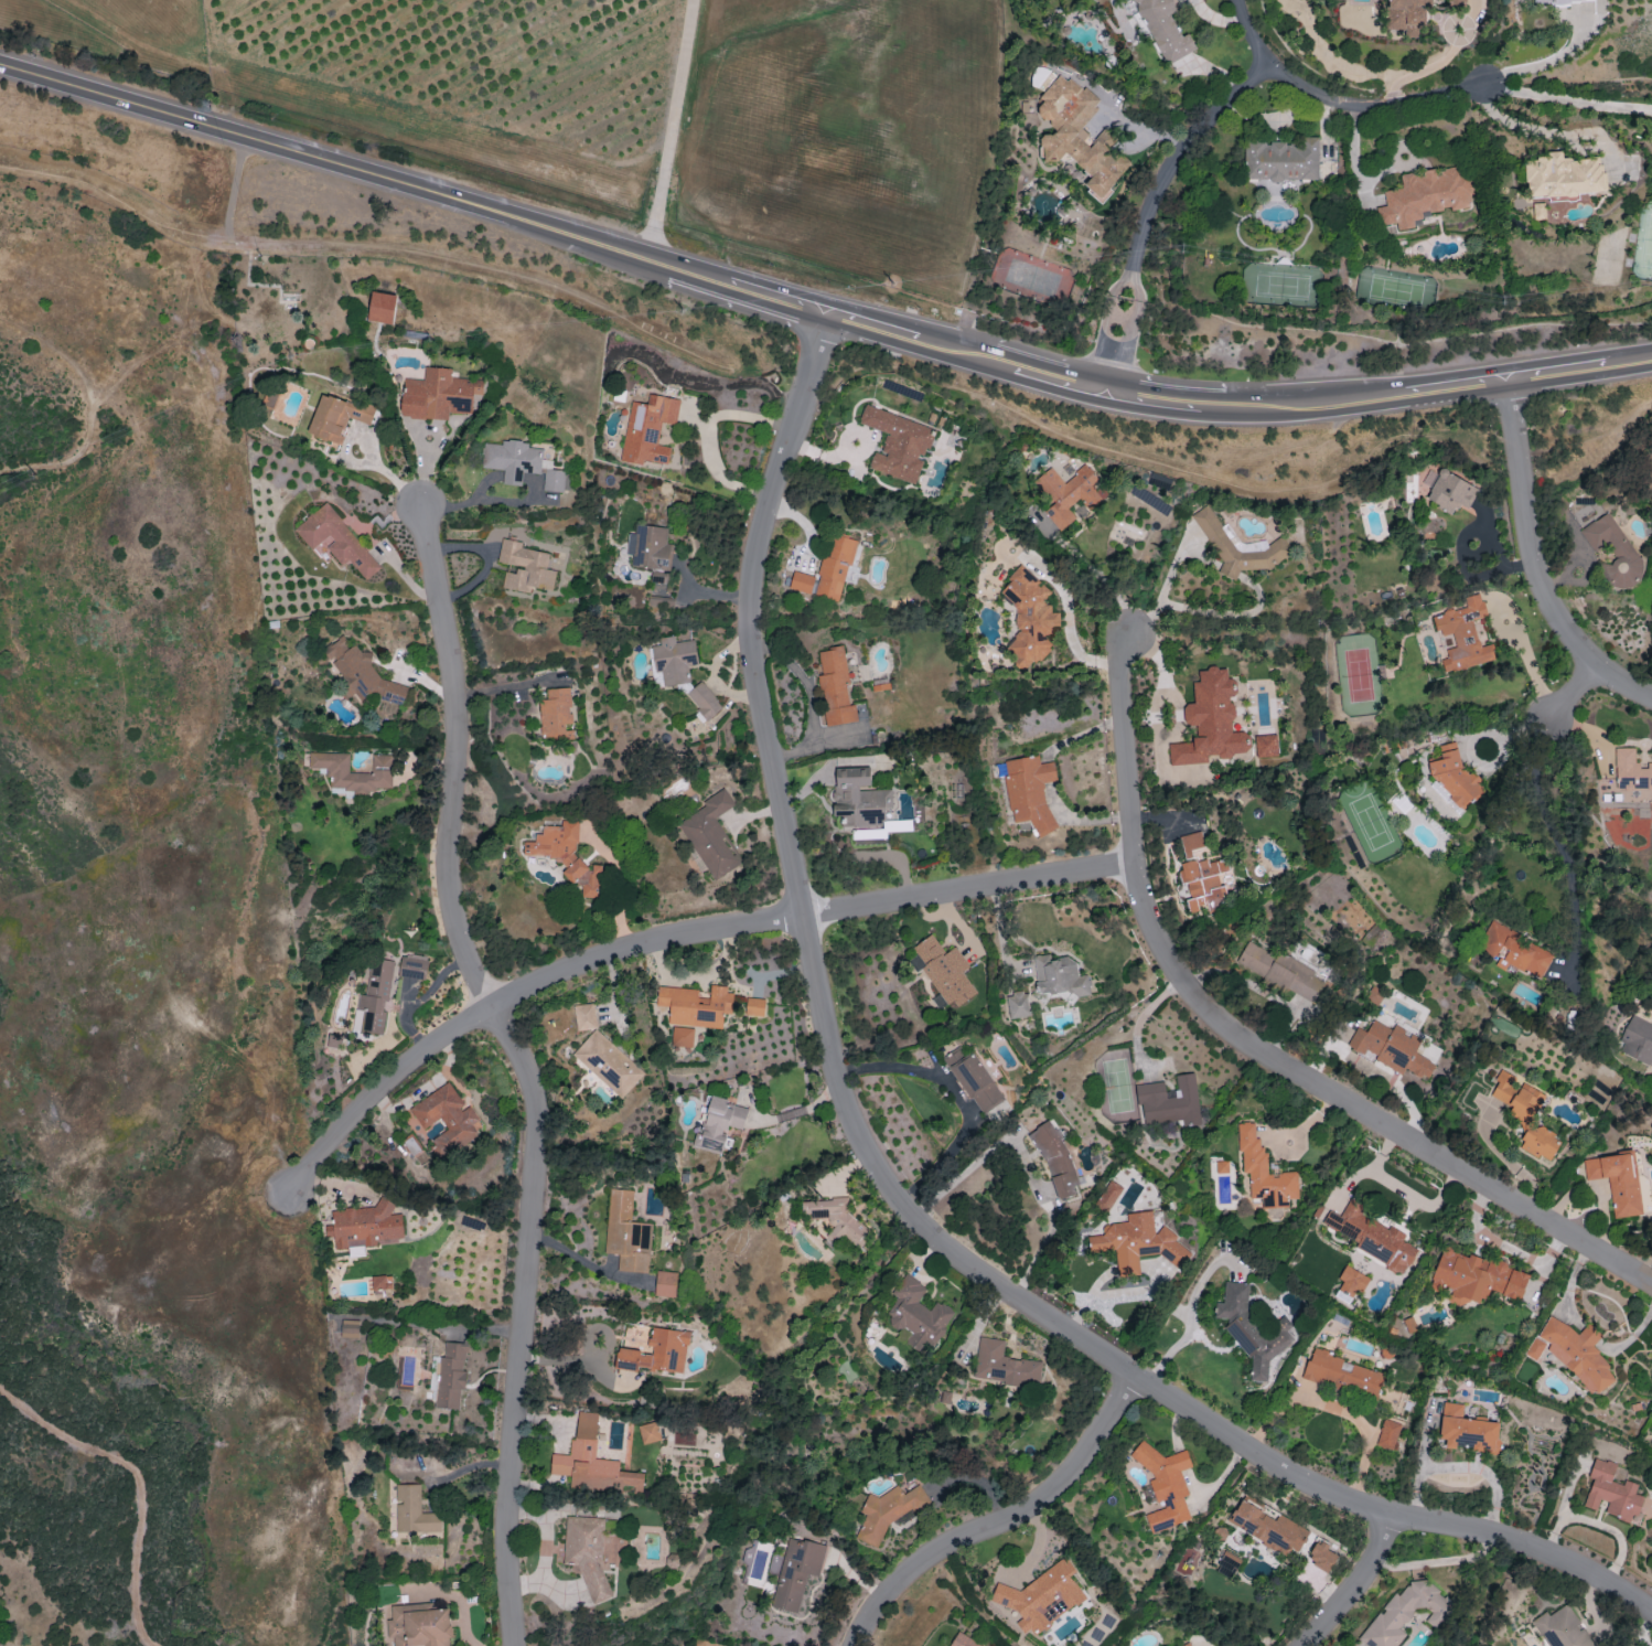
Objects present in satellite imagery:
building: (1558, 1)
building: (1456, 2)
building: (1406, 15)
building: (1165, 29)
road: (1541, 63)
road: (1566, 99)
road: (1333, 103)
road: (672, 130)
road: (1546, 132)
building: (1076, 136)
building: (1280, 160)
road: (335, 164)
building: (1562, 175)
road: (237, 188)
building: (1424, 196)
road: (1144, 207)
road: (407, 249)
road: (701, 276)
road: (777, 299)
building: (379, 307)
road: (872, 325)
road: (56, 352)
road: (967, 353)
road: (1629, 360)
road: (199, 363)
road: (1558, 370)
road: (1061, 381)
building: (440, 394)
road: (1370, 397)
building: (269, 398)
road: (1152, 402)
road: (1213, 409)
building: (336, 416)
road: (700, 428)
building: (648, 429)
building: (898, 443)
building: (512, 459)
road: (512, 474)
building: (554, 480)
building: (1449, 491)
building: (1070, 493)
road: (516, 501)
road: (466, 502)
building: (335, 541)
building: (1236, 546)
building: (650, 549)
building: (1613, 552)
road: (1536, 560)
building: (525, 567)
building: (827, 571)
road: (1083, 576)
road: (1161, 595)
building: (662, 601)
building: (1029, 618)
building: (1463, 634)
building: (674, 660)
road: (1525, 661)
building: (361, 673)
building: (835, 687)
road: (508, 688)
road: (1570, 694)
building: (704, 701)
building: (556, 715)
building: (1210, 722)
building: (1265, 746)
building: (1447, 747)
building: (382, 770)
building: (1631, 770)
building: (1457, 780)
building: (1029, 791)
building: (859, 798)
building: (710, 835)
road: (1556, 843)
building: (566, 855)
building: (1201, 876)
road: (675, 939)
building: (1515, 951)
building: (412, 966)
building: (943, 971)
building: (1283, 971)
building: (1059, 976)
building: (375, 996)
building: (1374, 996)
building: (696, 1005)
building: (1017, 1005)
building: (754, 1006)
building: (584, 1016)
building: (682, 1036)
building: (1637, 1040)
building: (333, 1041)
building: (1392, 1048)
road: (1259, 1050)
building: (608, 1064)
road: (525, 1066)
building: (973, 1078)
road: (955, 1097)
building: (1171, 1101)
building: (1525, 1115)
building: (447, 1120)
building: (719, 1123)
road: (1025, 1159)
building: (1055, 1159)
building: (1221, 1166)
building: (1264, 1172)
road: (883, 1178)
building: (1617, 1180)
building: (1108, 1195)
building: (837, 1220)
building: (364, 1226)
building: (626, 1233)
building: (1372, 1237)
building: (1138, 1242)
building: (1474, 1276)
building: (1351, 1281)
building: (382, 1282)
building: (665, 1283)
building: (918, 1312)
building: (350, 1328)
building: (1252, 1329)
road: (1184, 1338)
building: (656, 1351)
building: (1573, 1353)
building: (1004, 1365)
building: (1343, 1375)
building: (448, 1376)
building: (1467, 1430)
building: (648, 1432)
building: (1387, 1434)
road: (1420, 1462)
building: (592, 1463)
road: (1484, 1471)
road: (137, 1483)
building: (1165, 1484)
building: (1612, 1493)
building: (414, 1511)
building: (888, 1511)
road: (1005, 1520)
building: (1268, 1528)
building: (586, 1550)
building: (1321, 1557)
road: (1437, 1561)
building: (1227, 1562)
building: (797, 1572)
road: (1356, 1584)
building: (1041, 1596)
building: (1405, 1613)
building: (1563, 1627)
building: (963, 1640)
building: (1186, 1644)

